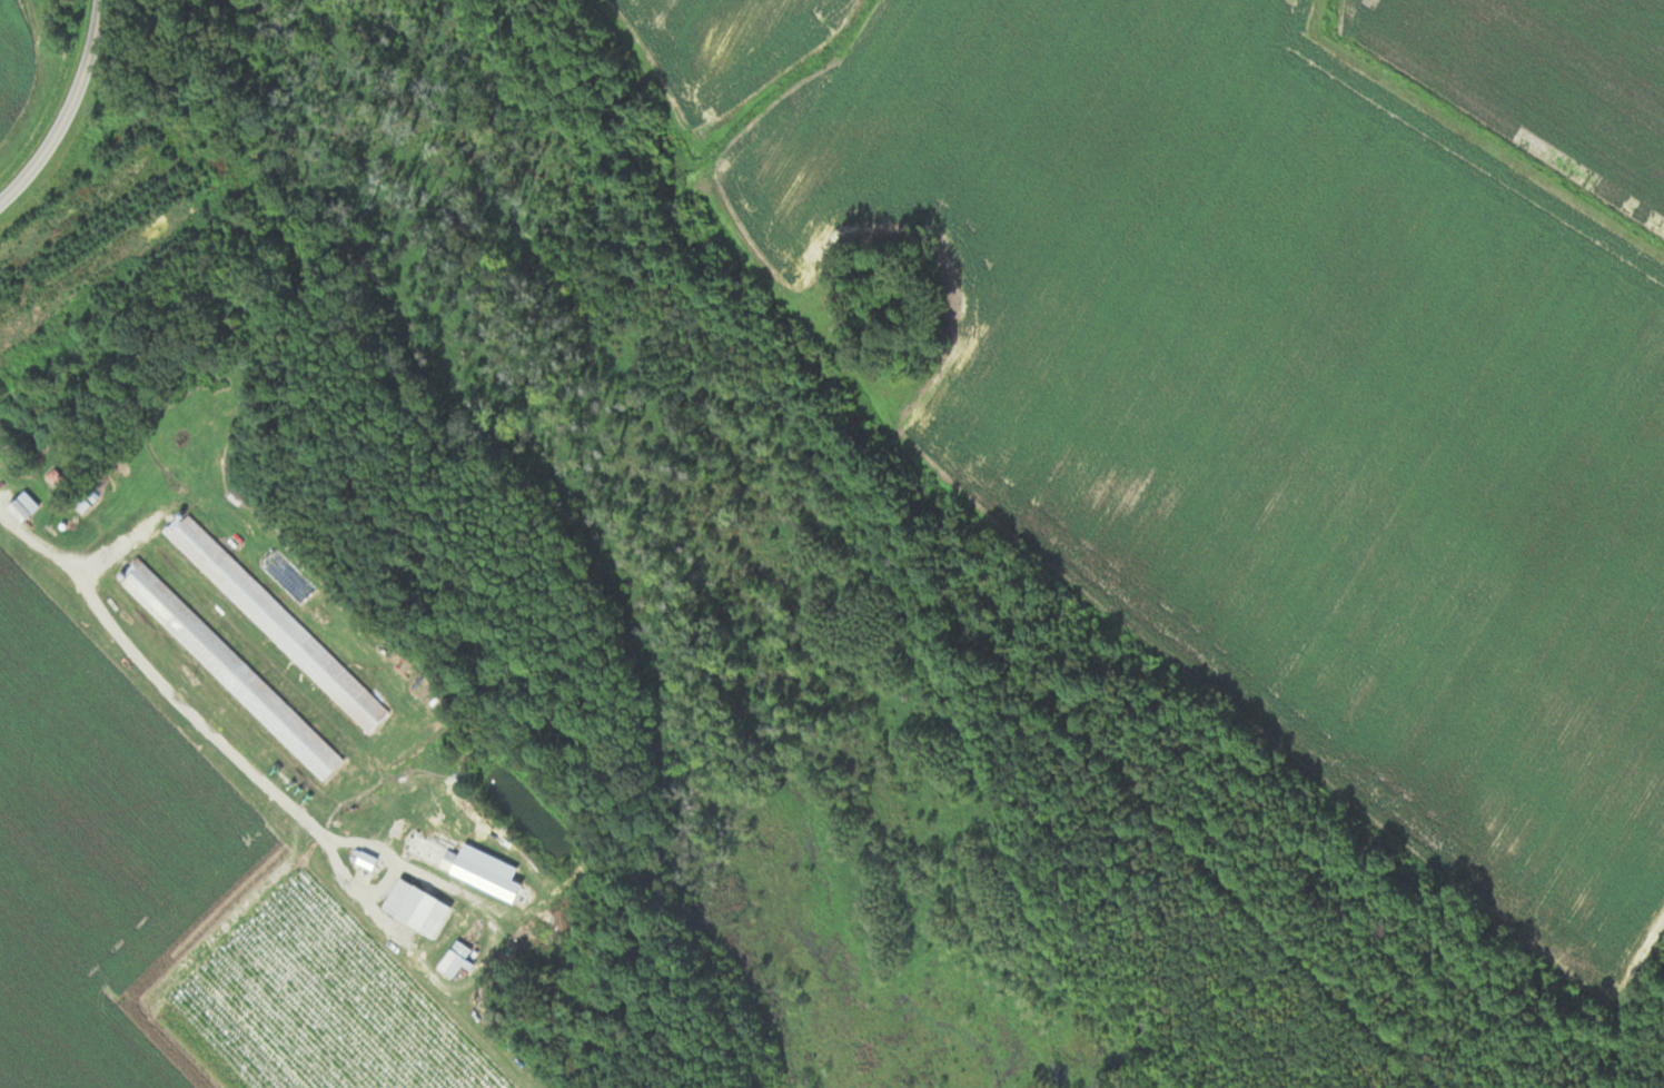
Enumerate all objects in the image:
road: (66, 109)
building: (79, 208)
building: (99, 275)
building: (23, 506)
building: (277, 623)
building: (230, 670)
road: (161, 681)
building: (367, 861)
building: (469, 870)
building: (417, 909)
building: (455, 960)

